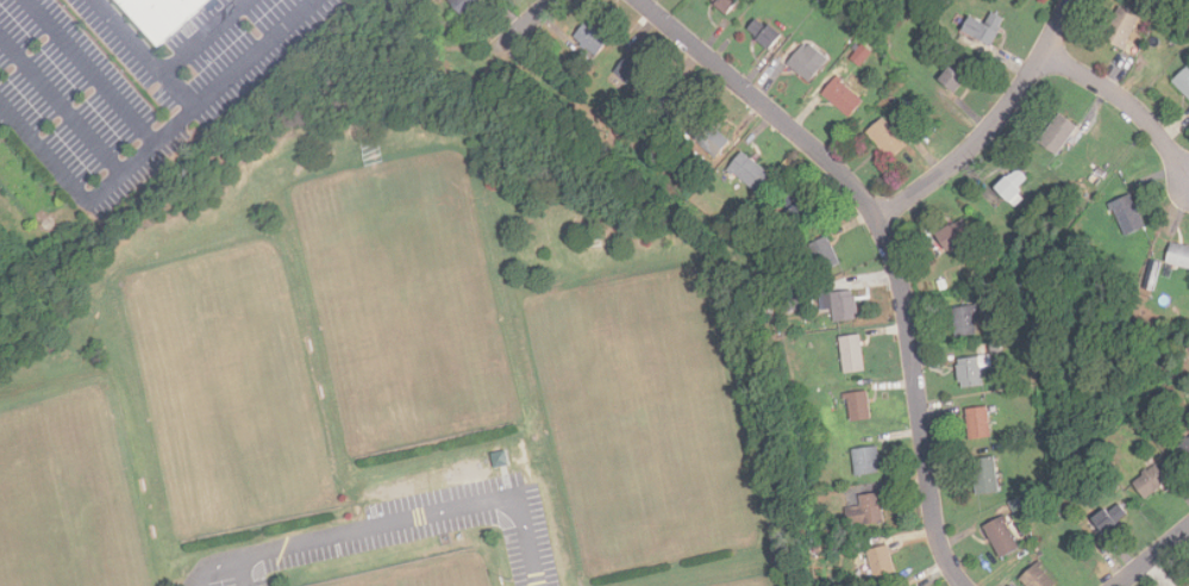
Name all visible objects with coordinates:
building: (1147, 0)
building: (727, 5)
building: (465, 6)
building: (938, 6)
building: (170, 13)
building: (1146, 17)
road: (533, 20)
building: (931, 20)
building: (985, 27)
building: (1121, 29)
building: (766, 35)
building: (593, 39)
building: (861, 57)
building: (809, 61)
road: (164, 73)
building: (633, 73)
road: (92, 74)
building: (957, 77)
building: (1183, 83)
road: (481, 88)
road: (176, 95)
building: (843, 96)
road: (1125, 102)
building: (674, 107)
road: (62, 108)
road: (989, 125)
building: (1060, 135)
building: (711, 138)
building: (888, 139)
road: (156, 149)
building: (747, 173)
building: (1101, 174)
building: (1014, 186)
building: (795, 208)
building: (1127, 214)
building: (953, 236)
road: (887, 244)
building: (825, 255)
building: (1178, 256)
building: (1151, 268)
building: (943, 286)
building: (825, 304)
park: (406, 305)
building: (794, 305)
building: (844, 307)
building: (965, 322)
park: (403, 354)
building: (853, 356)
building: (971, 374)
park: (227, 388)
building: (861, 407)
park: (642, 419)
building: (978, 424)
building: (1183, 454)
building: (501, 459)
building: (866, 462)
building: (985, 478)
building: (1151, 482)
park: (65, 507)
building: (866, 511)
building: (1112, 519)
road: (392, 523)
parking lot: (405, 534)
building: (1002, 537)
building: (1030, 538)
road: (1153, 556)
building: (882, 562)
road: (242, 573)
building: (1037, 578)
street lamp: (512, 579)
park: (467, 581)
building: (1188, 585)

